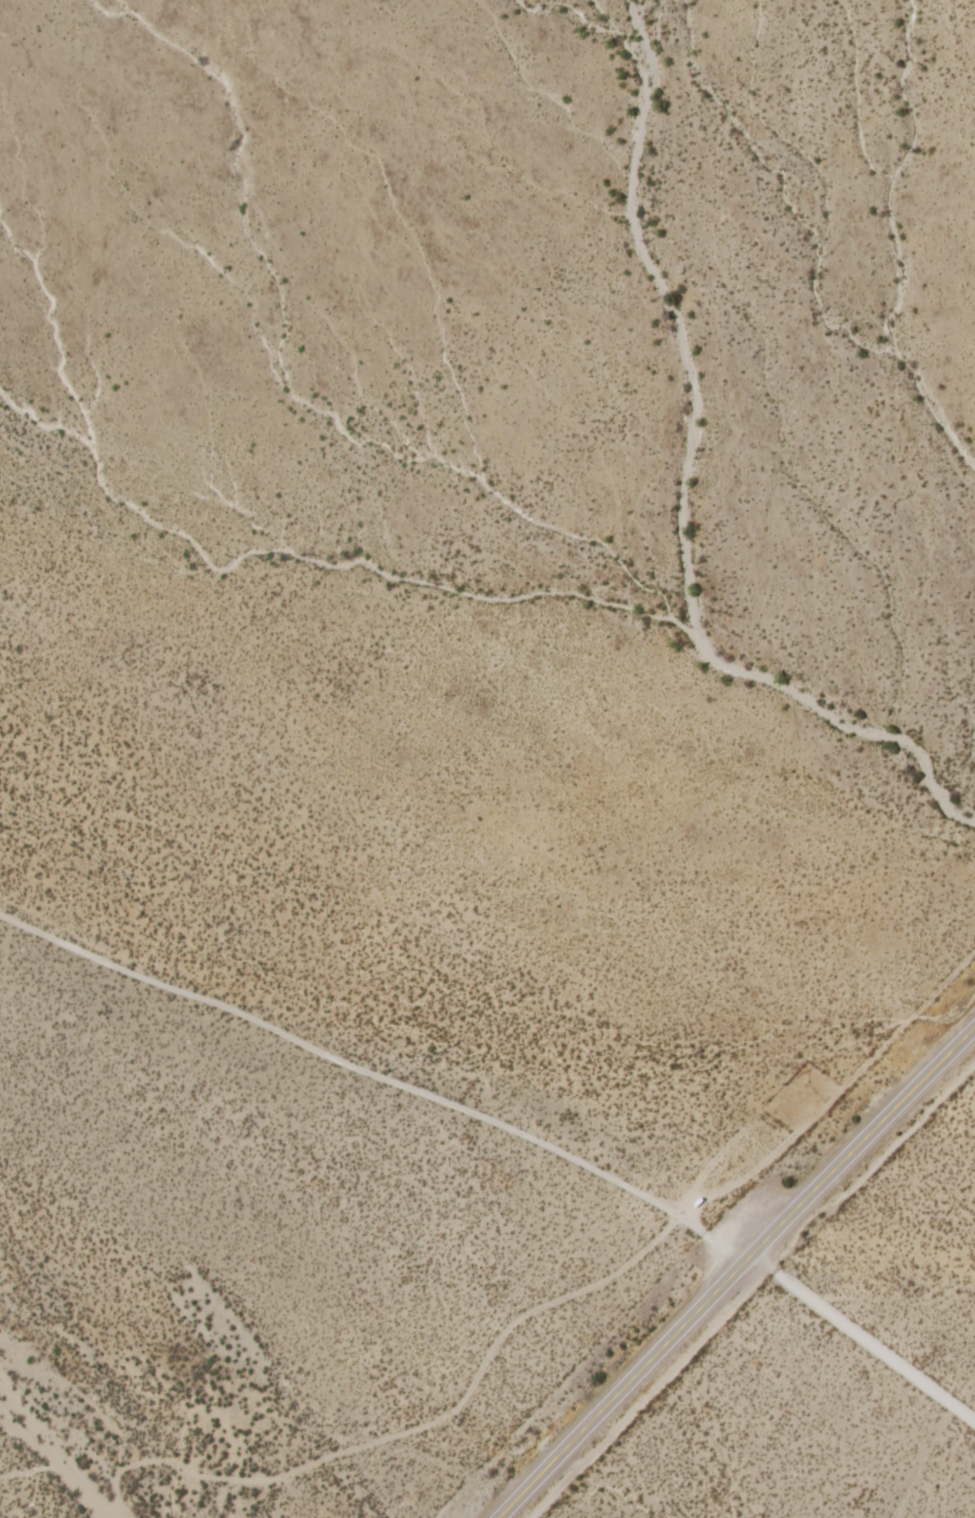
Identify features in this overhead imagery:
road: (377, 1075)
road: (827, 1101)
road: (734, 1268)
road: (862, 1336)
road: (433, 1422)
road: (76, 1477)

